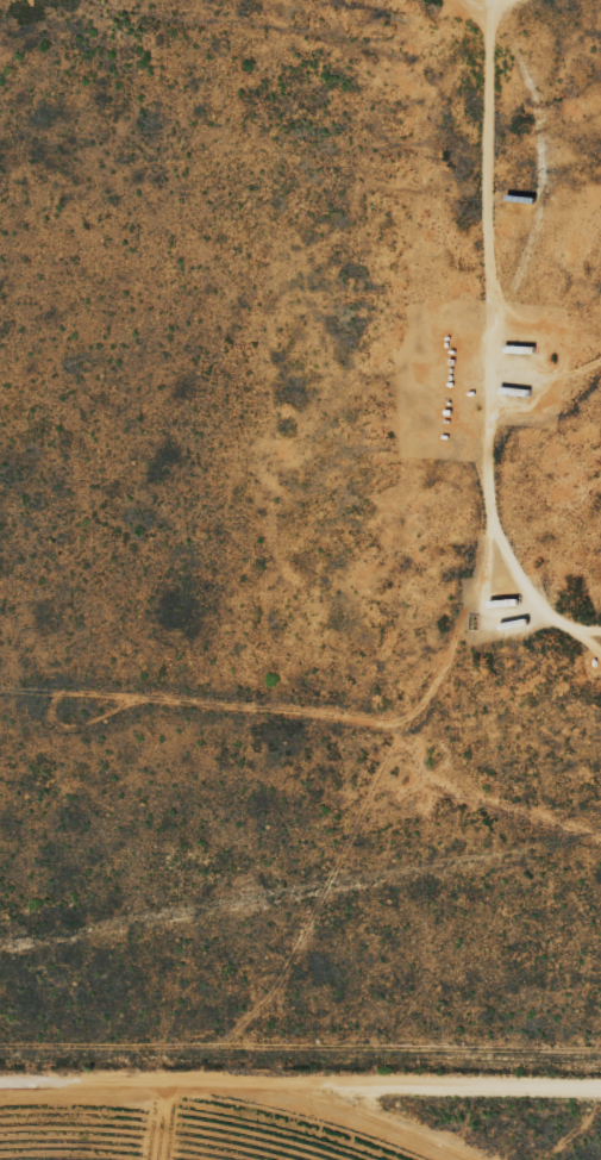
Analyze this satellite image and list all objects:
road: (300, 1078)

